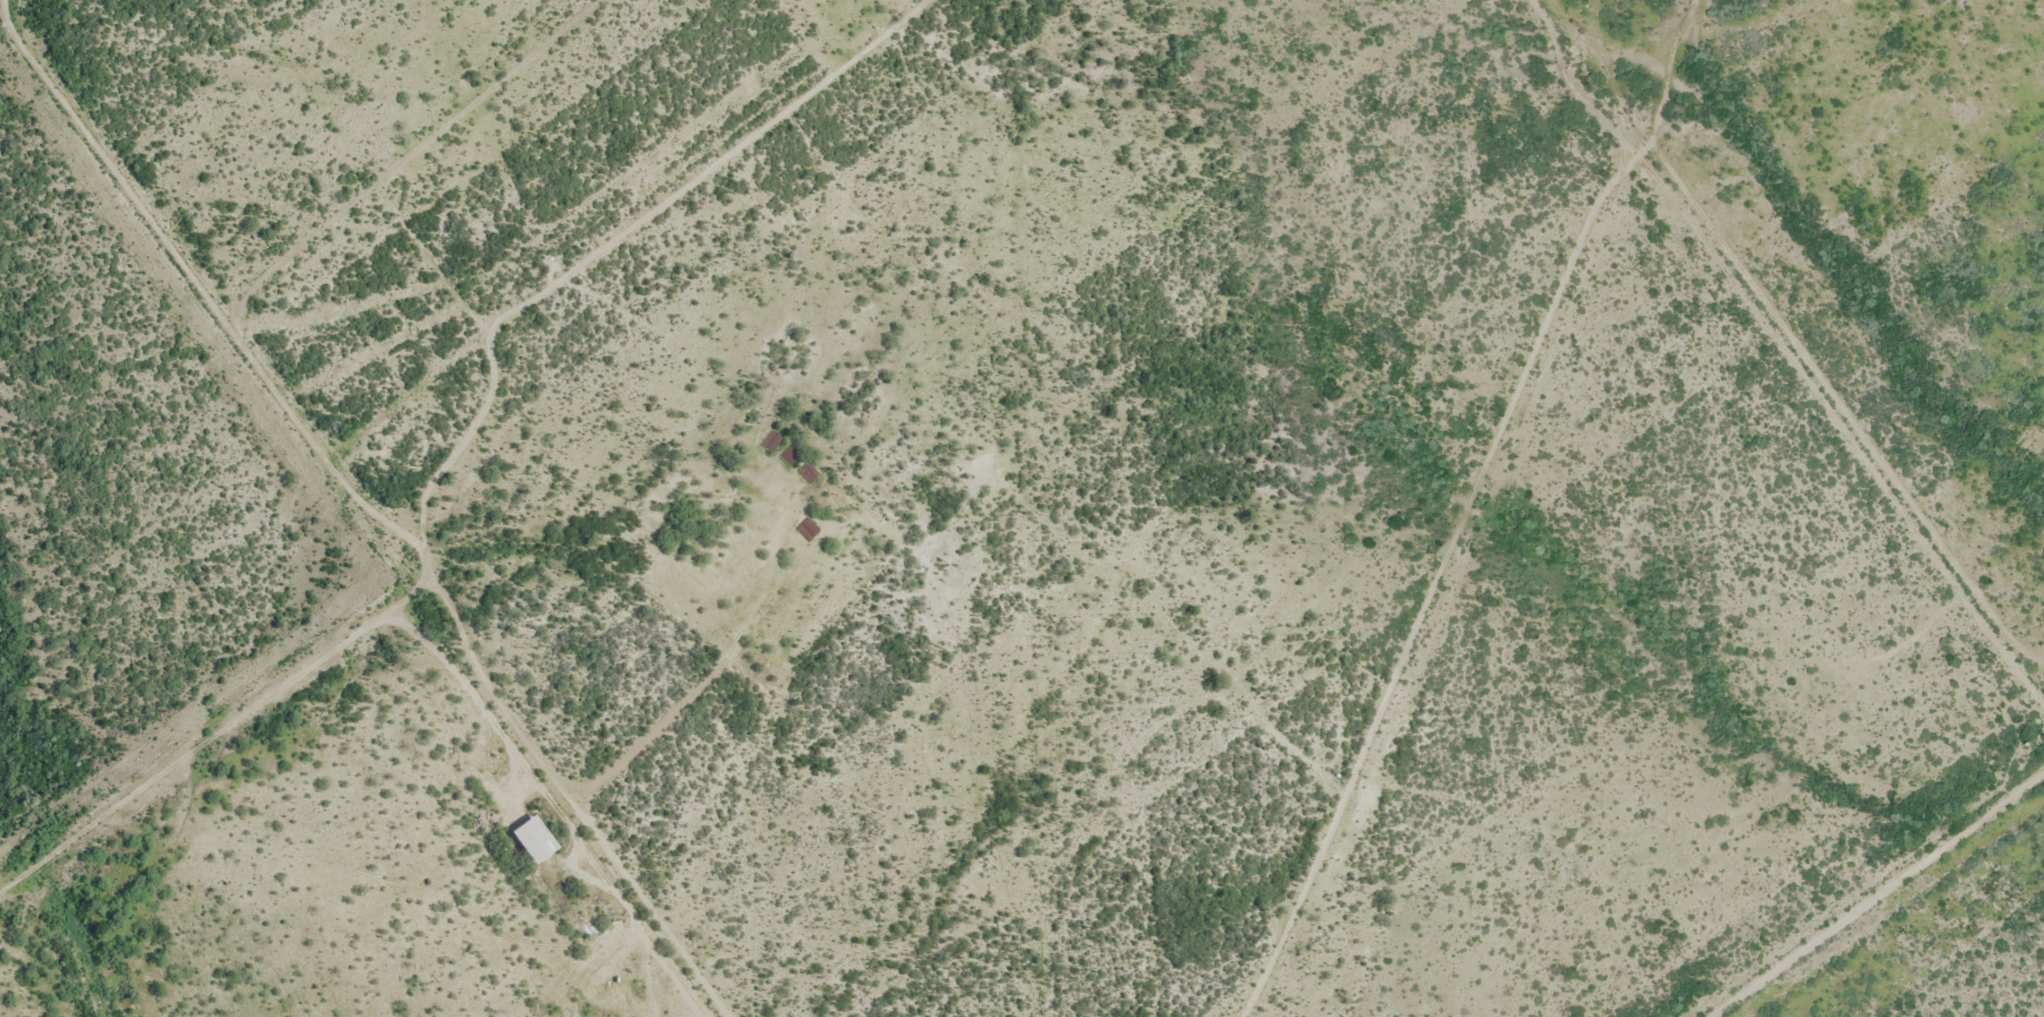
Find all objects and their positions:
building: (533, 839)
road: (1904, 912)

